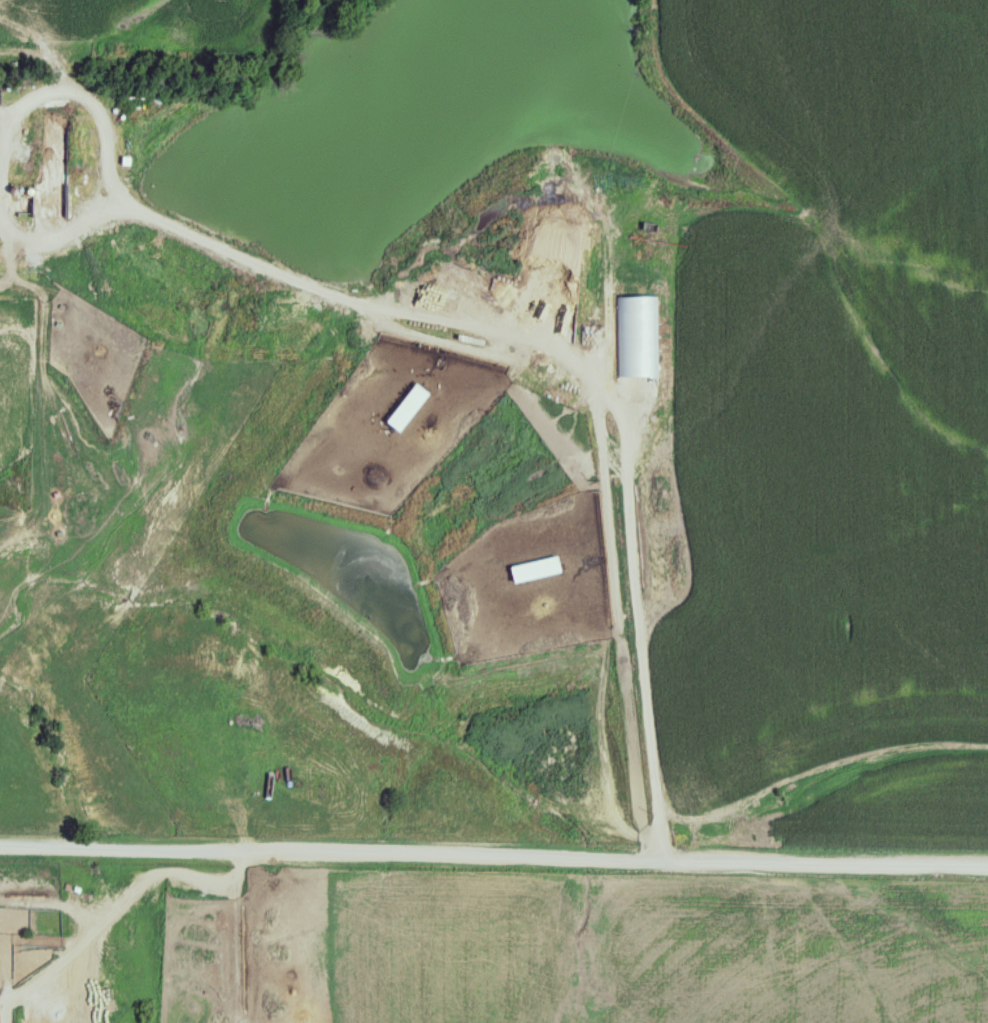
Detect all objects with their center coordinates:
road: (581, 372)
building: (412, 409)
building: (539, 570)
road: (494, 858)

